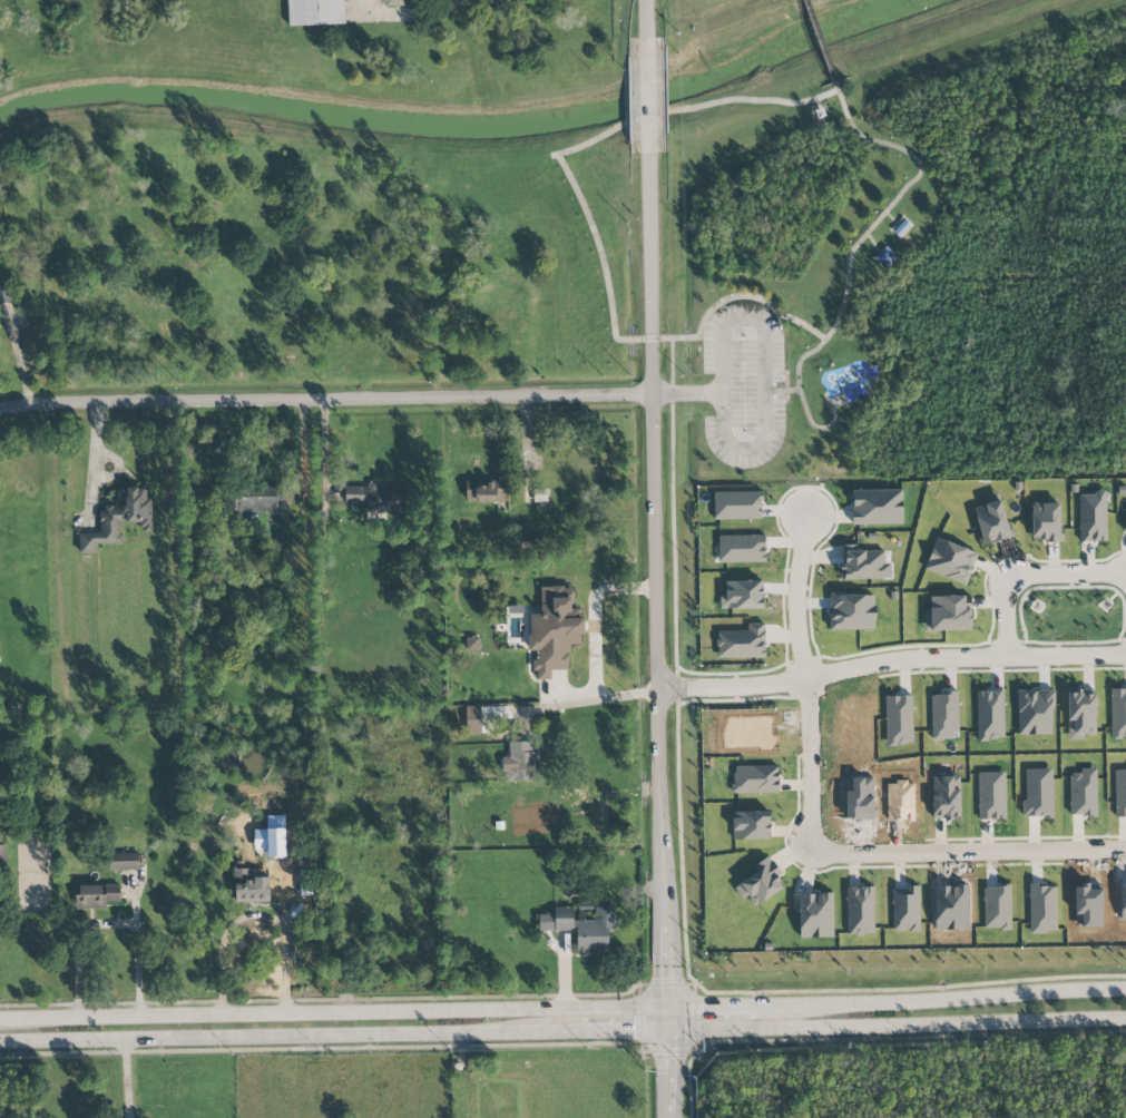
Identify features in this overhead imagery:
road: (456, 0)
building: (392, 2)
building: (315, 12)
park: (703, 14)
road: (652, 21)
road: (819, 40)
road: (653, 97)
road: (577, 147)
road: (900, 195)
building: (901, 228)
building: (885, 257)
building: (1, 305)
building: (0, 325)
road: (762, 345)
road: (17, 354)
parking lot: (740, 382)
road: (792, 390)
road: (329, 400)
road: (803, 403)
road: (324, 451)
road: (92, 457)
building: (484, 492)
building: (378, 498)
building: (877, 507)
building: (1093, 517)
building: (119, 518)
building: (991, 519)
building: (1046, 522)
building: (1124, 528)
building: (950, 560)
building: (864, 563)
road: (1029, 577)
road: (660, 578)
building: (852, 611)
road: (595, 612)
building: (948, 614)
building: (555, 632)
building: (0, 660)
road: (893, 661)
road: (805, 678)
road: (603, 698)
building: (1118, 713)
building: (1081, 715)
building: (520, 761)
building: (755, 778)
road: (679, 785)
building: (991, 795)
building: (946, 797)
building: (751, 825)
building: (272, 837)
road: (967, 852)
building: (124, 861)
building: (761, 883)
building: (256, 884)
building: (97, 896)
building: (905, 910)
building: (860, 911)
road: (254, 913)
building: (546, 922)
building: (587, 928)
road: (137, 960)
road: (940, 998)
road: (349, 999)
road: (712, 1006)
road: (333, 1011)
road: (562, 1032)
road: (918, 1038)
road: (355, 1048)
road: (668, 1062)
road: (689, 1075)
road: (124, 1079)

